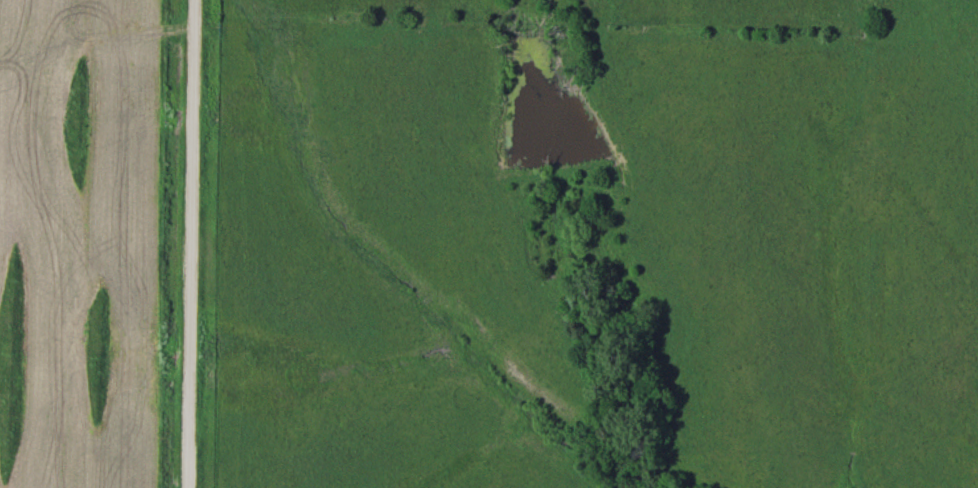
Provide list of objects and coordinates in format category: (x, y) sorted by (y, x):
road: (193, 244)

